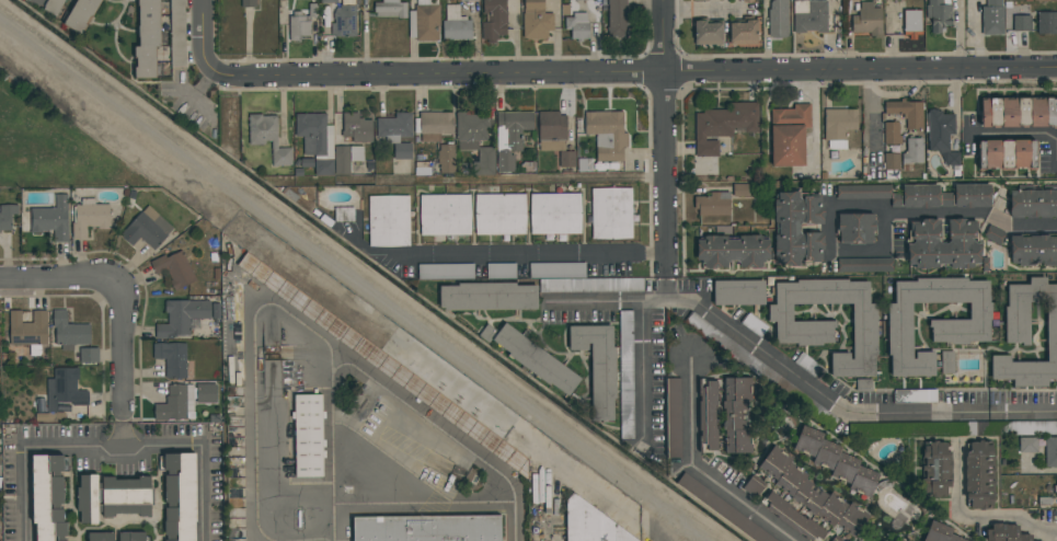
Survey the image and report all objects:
building: (471, 0)
building: (703, 0)
building: (746, 0)
building: (329, 1)
building: (747, 1)
building: (249, 3)
building: (53, 5)
building: (390, 9)
building: (81, 14)
building: (939, 14)
building: (809, 16)
building: (617, 18)
building: (992, 18)
building: (778, 19)
building: (494, 20)
building: (536, 20)
building: (868, 20)
building: (344, 21)
building: (424, 21)
building: (301, 22)
building: (911, 23)
building: (1022, 23)
building: (1047, 23)
building: (456, 25)
building: (577, 25)
building: (743, 32)
building: (176, 33)
building: (708, 33)
building: (147, 39)
road: (203, 45)
road: (643, 73)
building: (1018, 112)
building: (907, 113)
road: (813, 122)
building: (723, 125)
building: (434, 126)
road: (665, 126)
building: (839, 126)
building: (356, 128)
building: (552, 131)
building: (892, 133)
building: (395, 134)
building: (607, 134)
building: (789, 135)
building: (941, 135)
road: (1014, 135)
building: (267, 137)
building: (510, 137)
building: (317, 141)
building: (475, 141)
building: (912, 151)
building: (1007, 154)
building: (446, 158)
building: (346, 159)
building: (566, 159)
building: (892, 165)
road: (514, 179)
building: (740, 191)
building: (863, 192)
building: (966, 196)
building: (917, 197)
building: (713, 204)
building: (1033, 204)
road: (975, 212)
building: (344, 214)
building: (499, 214)
building: (555, 214)
building: (611, 214)
building: (445, 215)
building: (7, 216)
building: (90, 217)
building: (51, 219)
building: (388, 220)
building: (855, 228)
building: (147, 229)
building: (797, 229)
building: (996, 235)
road: (832, 242)
building: (943, 244)
building: (1033, 250)
building: (733, 251)
road: (519, 253)
building: (864, 265)
building: (174, 269)
building: (501, 269)
building: (446, 272)
road: (666, 277)
road: (60, 279)
building: (738, 292)
building: (487, 297)
road: (294, 316)
building: (182, 318)
building: (934, 320)
building: (828, 321)
building: (28, 331)
building: (69, 332)
building: (1027, 335)
road: (120, 349)
building: (625, 352)
building: (89, 356)
road: (772, 357)
building: (174, 359)
building: (536, 360)
building: (947, 362)
building: (384, 364)
building: (598, 366)
road: (644, 370)
building: (64, 389)
building: (205, 393)
building: (176, 403)
road: (1023, 408)
building: (736, 415)
building: (706, 416)
building: (1033, 428)
road: (122, 433)
building: (625, 433)
building: (309, 436)
road: (334, 444)
building: (1027, 446)
road: (114, 447)
building: (1050, 452)
building: (836, 461)
building: (0, 465)
road: (698, 465)
building: (937, 470)
building: (979, 475)
building: (1056, 486)
road: (204, 493)
road: (25, 494)
building: (812, 494)
building: (181, 495)
building: (48, 497)
building: (113, 497)
road: (425, 500)
building: (723, 509)
building: (792, 517)
road: (976, 517)
building: (590, 523)
building: (427, 528)
building: (940, 533)
building: (1006, 533)
building: (101, 537)
building: (131, 537)
building: (834, 540)

